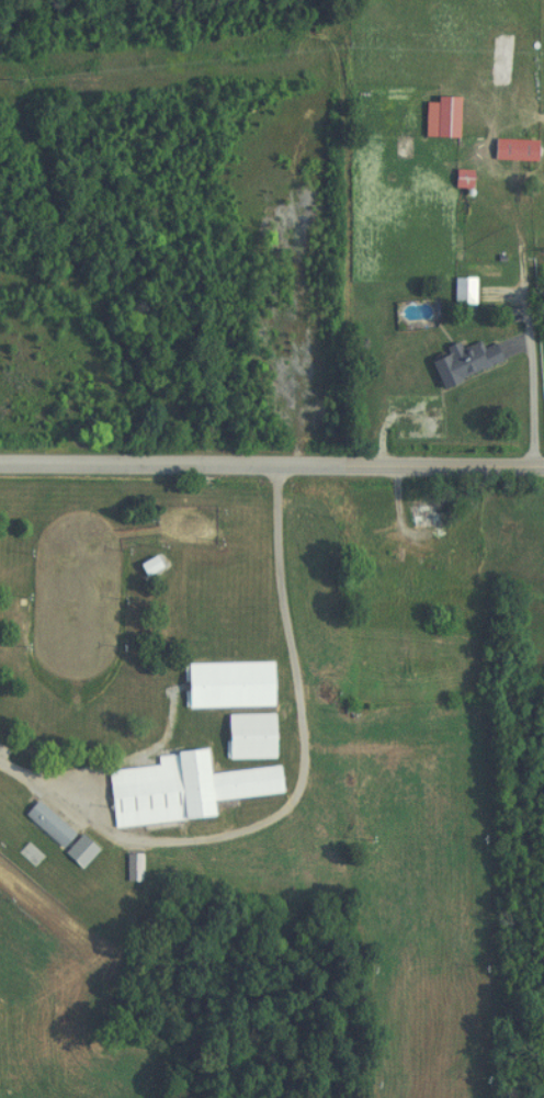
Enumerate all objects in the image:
building: (433, 117)
building: (508, 150)
building: (457, 292)
building: (455, 361)
road: (529, 401)
road: (398, 418)
road: (272, 467)
building: (418, 514)
building: (143, 566)
building: (222, 684)
building: (243, 736)
building: (174, 790)
road: (297, 799)
building: (42, 825)
building: (127, 868)

